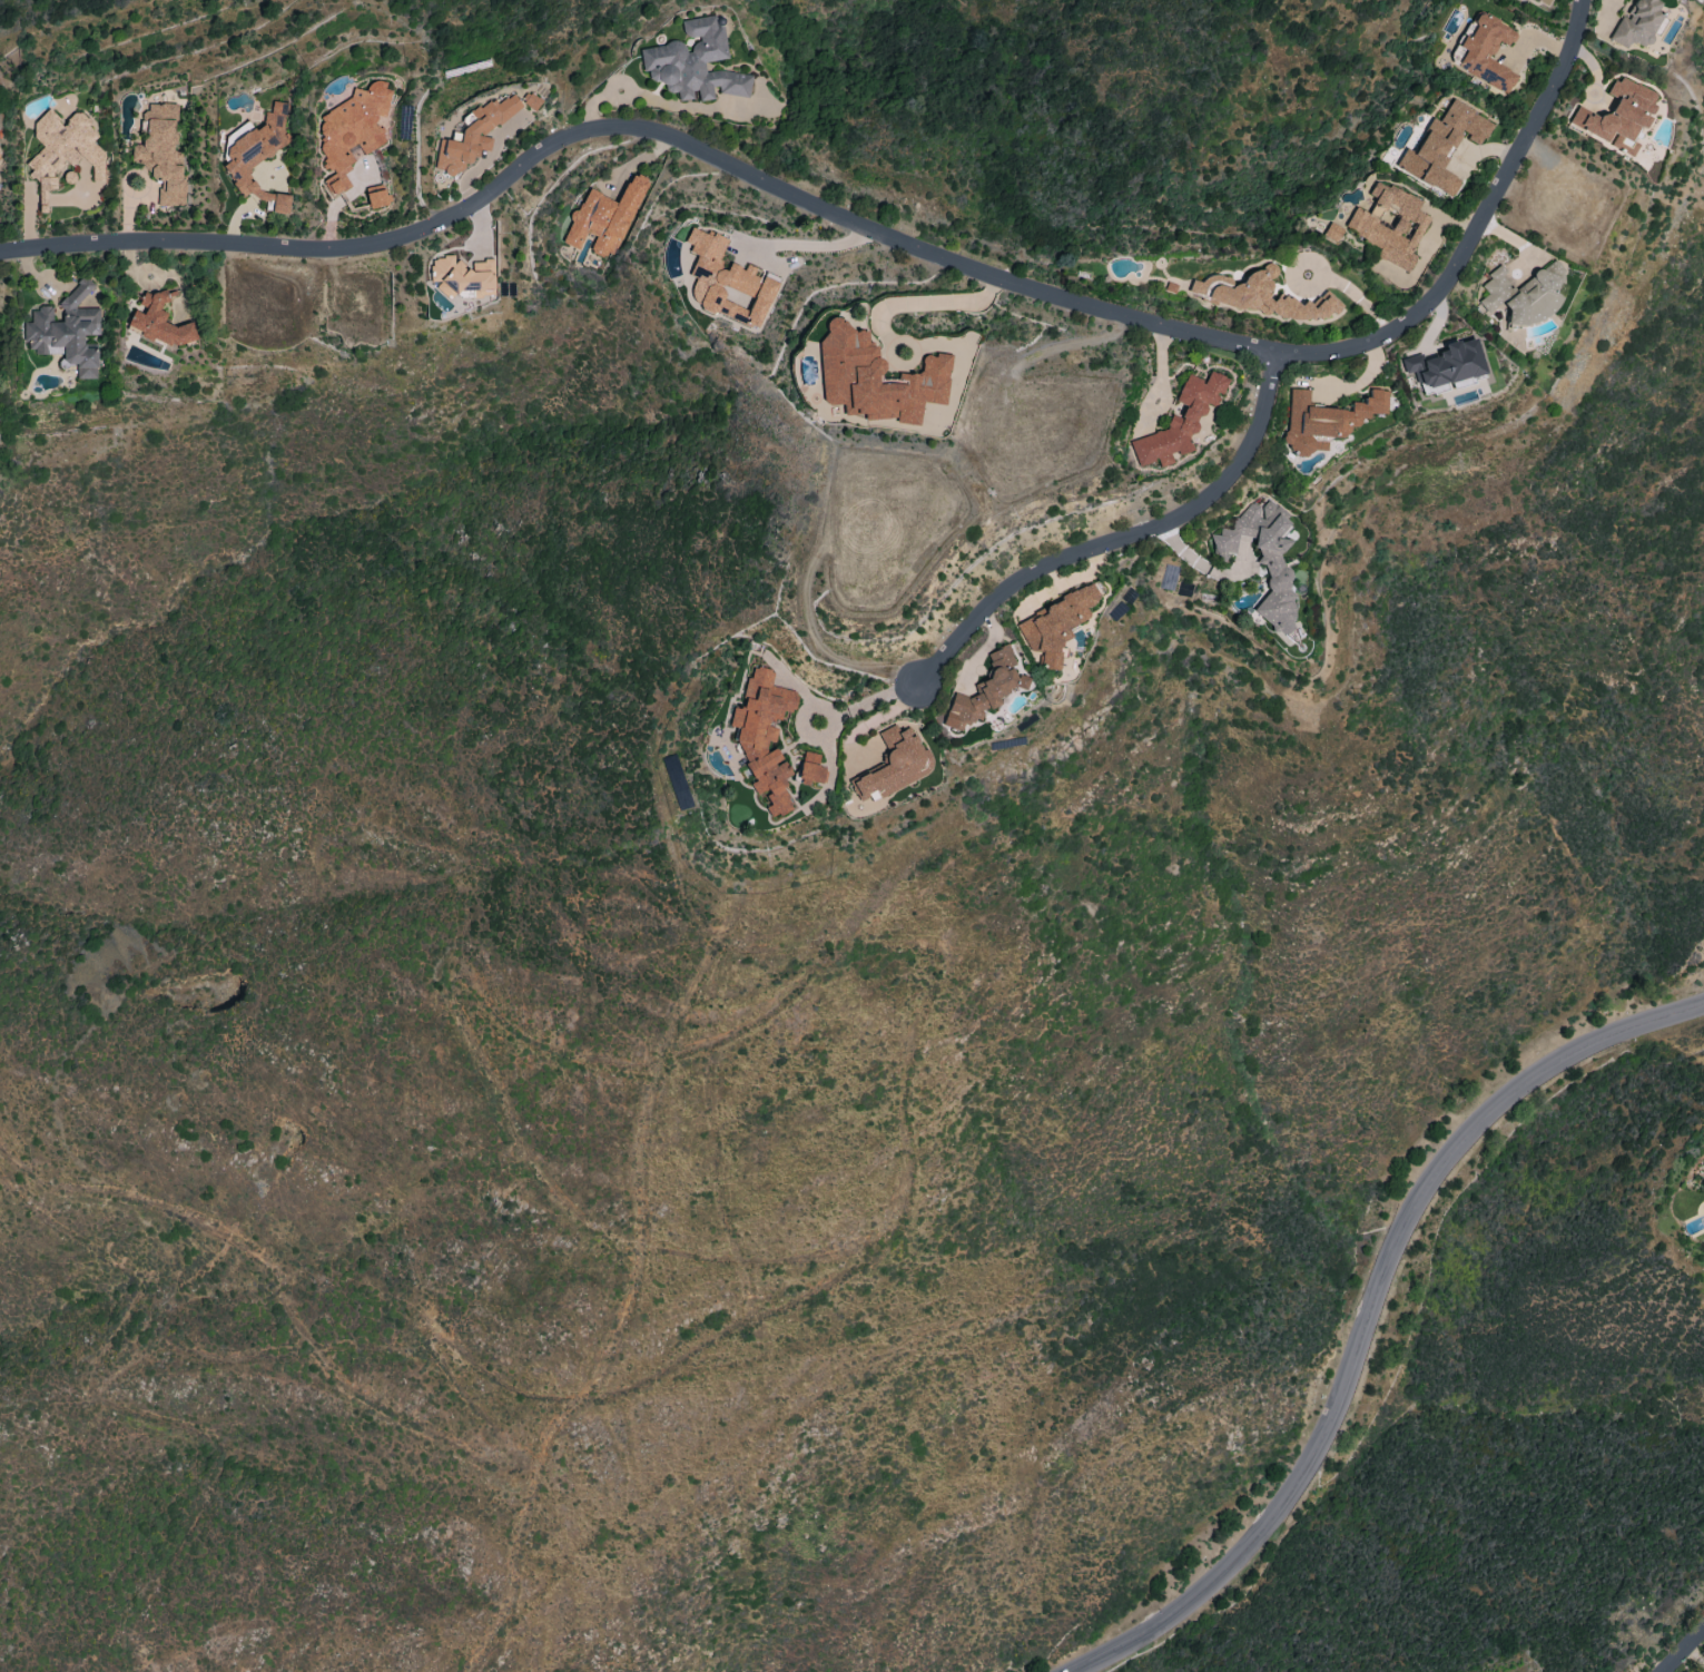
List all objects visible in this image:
building: (1637, 23)
building: (1486, 51)
building: (693, 62)
building: (532, 100)
building: (1617, 114)
building: (352, 131)
building: (473, 135)
building: (1442, 146)
building: (63, 148)
building: (161, 151)
building: (258, 156)
building: (377, 198)
building: (604, 217)
building: (1389, 224)
road: (876, 228)
building: (1332, 232)
road: (1322, 276)
building: (462, 277)
building: (727, 282)
building: (1523, 294)
building: (1262, 296)
road: (926, 303)
building: (159, 321)
building: (67, 331)
building: (1446, 365)
building: (876, 378)
building: (1326, 419)
building: (1180, 421)
road: (1131, 535)
building: (1264, 560)
building: (1056, 623)
building: (985, 690)
road: (870, 699)
building: (764, 736)
building: (894, 765)
building: (811, 768)
road: (1372, 1317)
road: (1684, 1651)

